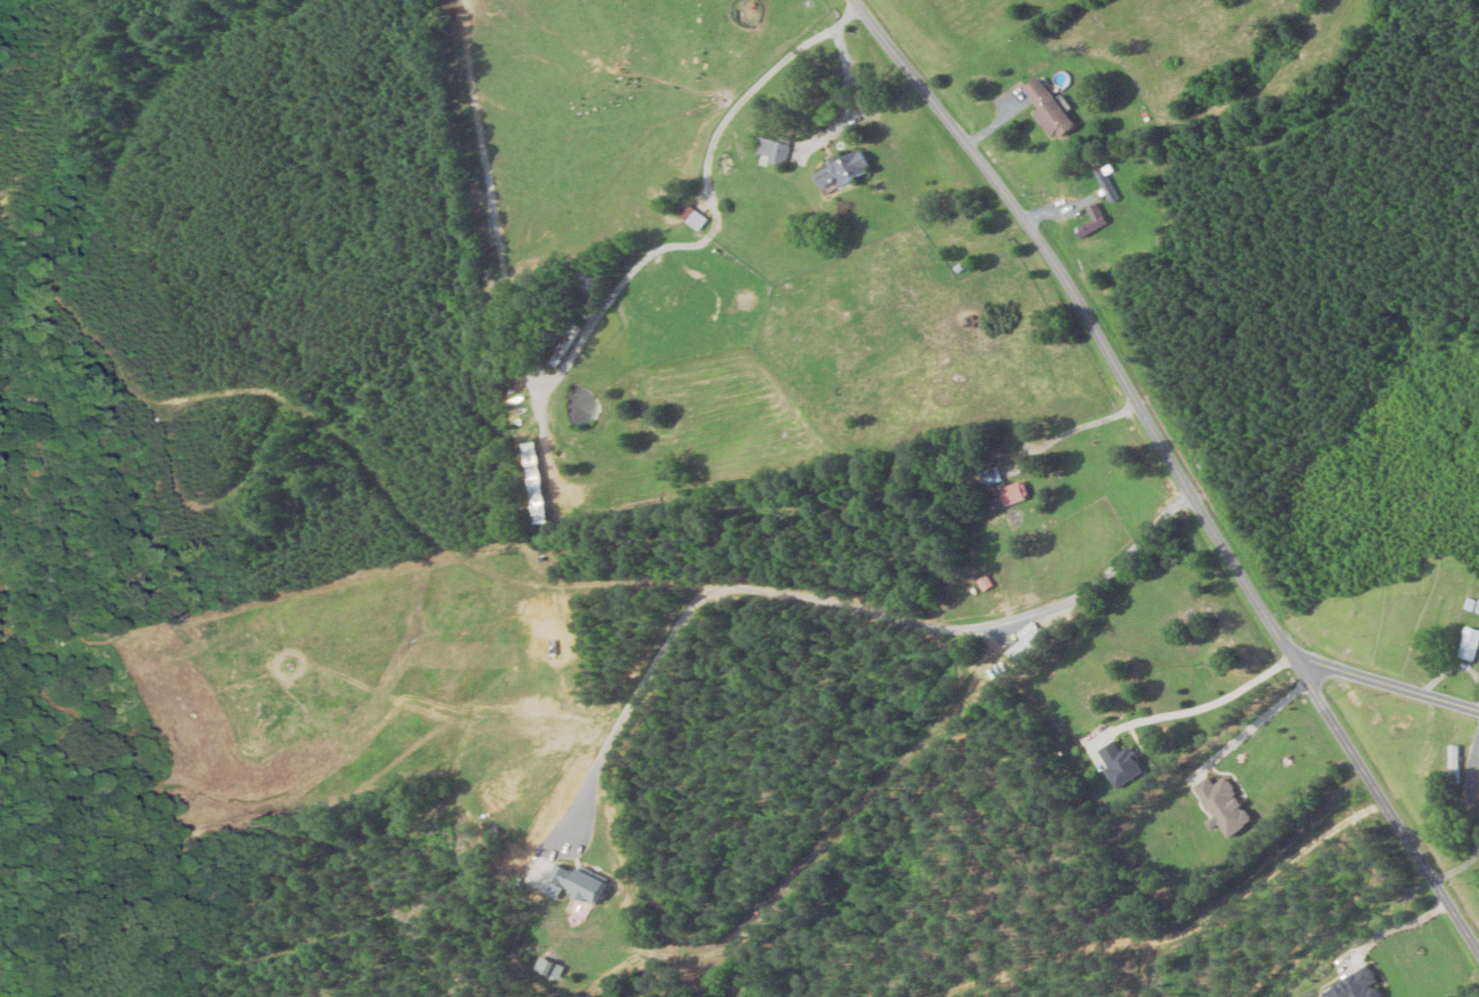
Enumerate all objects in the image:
building: (1055, 107)
building: (777, 149)
building: (849, 169)
building: (694, 217)
building: (1096, 222)
road: (1167, 471)
building: (991, 476)
building: (1014, 494)
building: (980, 583)
road: (768, 593)
building: (1472, 604)
building: (1024, 641)
building: (1469, 643)
road: (1387, 685)
river: (89, 756)
building: (1124, 763)
building: (1239, 821)
building: (575, 882)
building: (547, 967)
building: (1359, 986)

